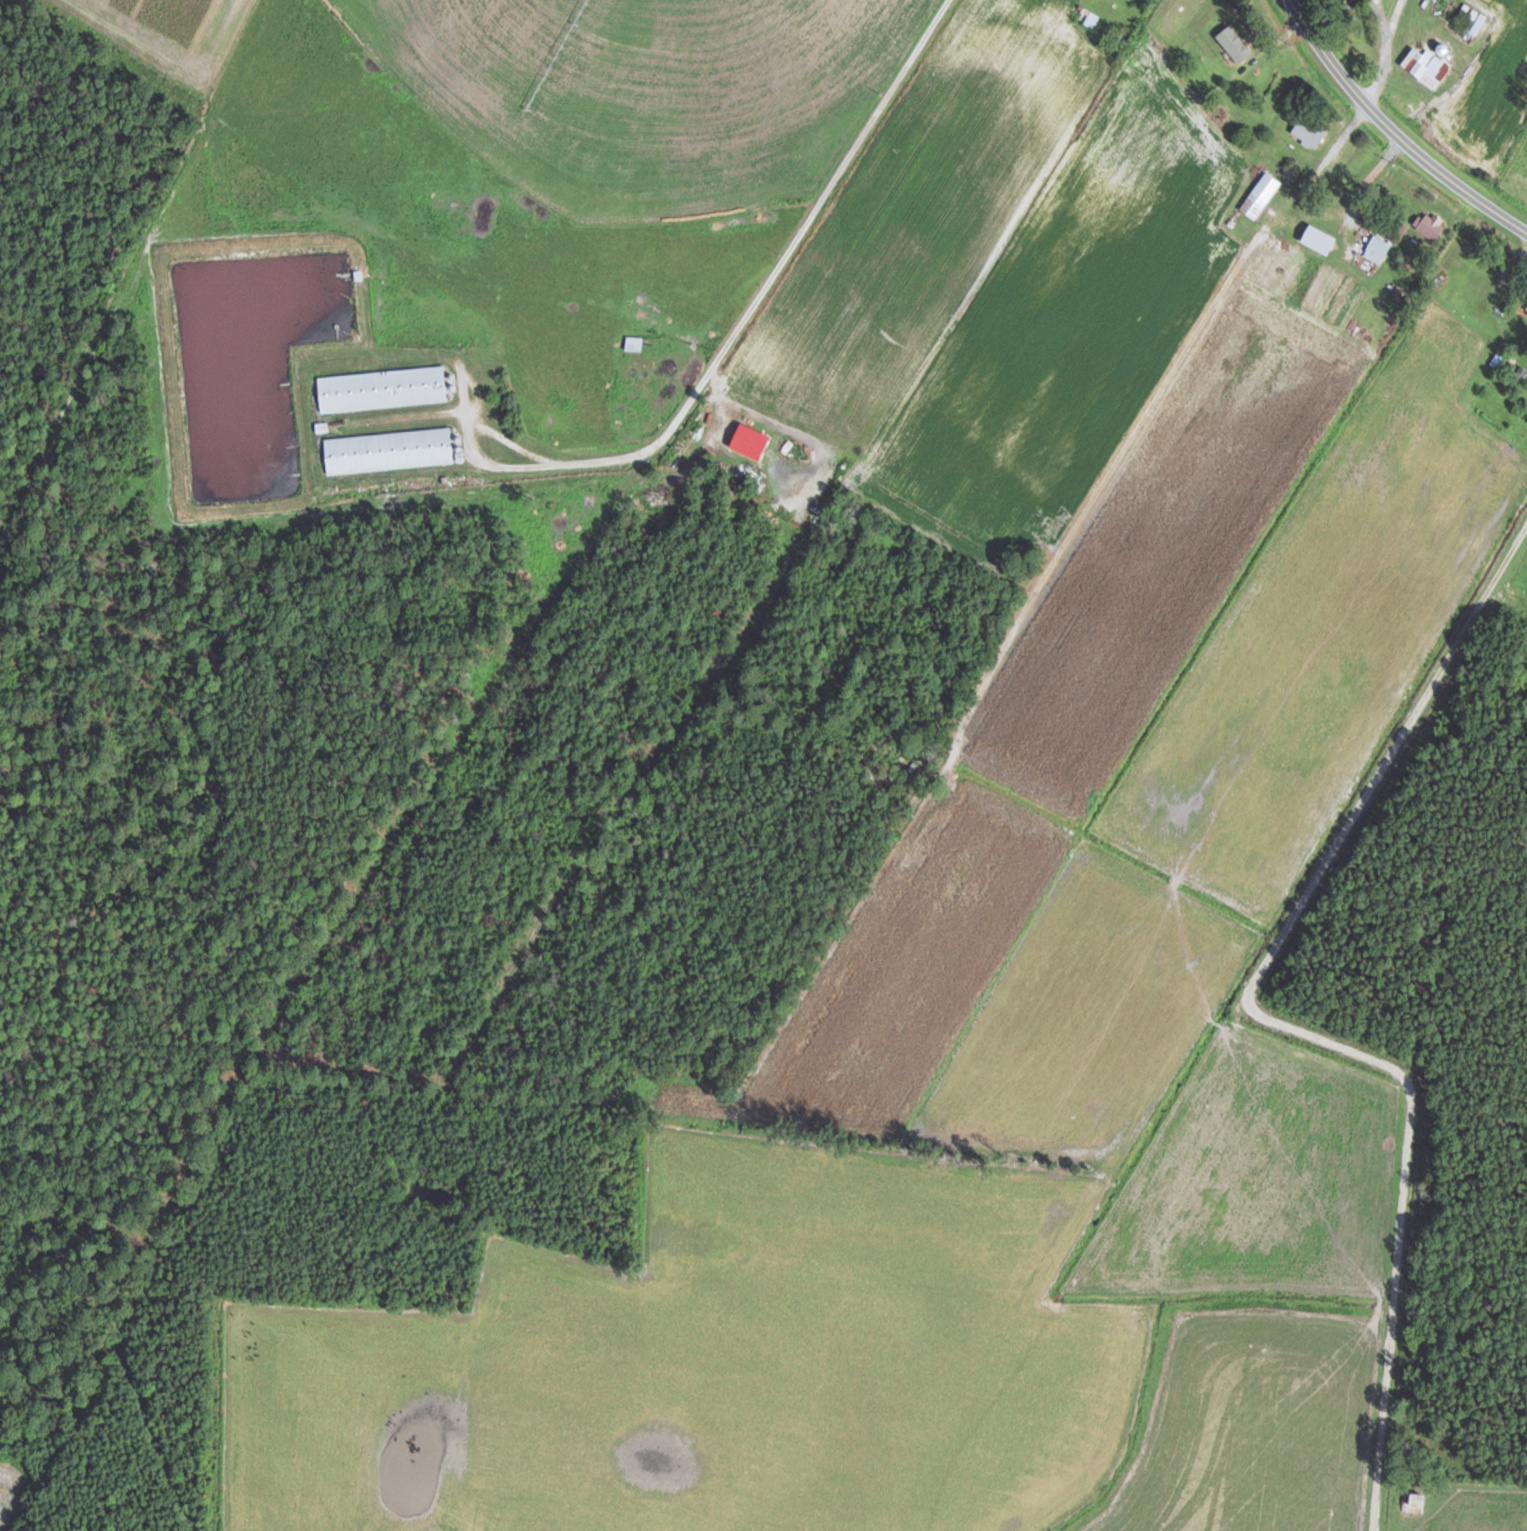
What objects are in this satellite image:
building: (1082, 14)
building: (1458, 30)
building: (1225, 47)
building: (1422, 65)
building: (1305, 130)
road: (1392, 132)
building: (1256, 194)
building: (1426, 224)
building: (1313, 238)
building: (1375, 245)
building: (377, 388)
building: (384, 450)
building: (1409, 1501)

